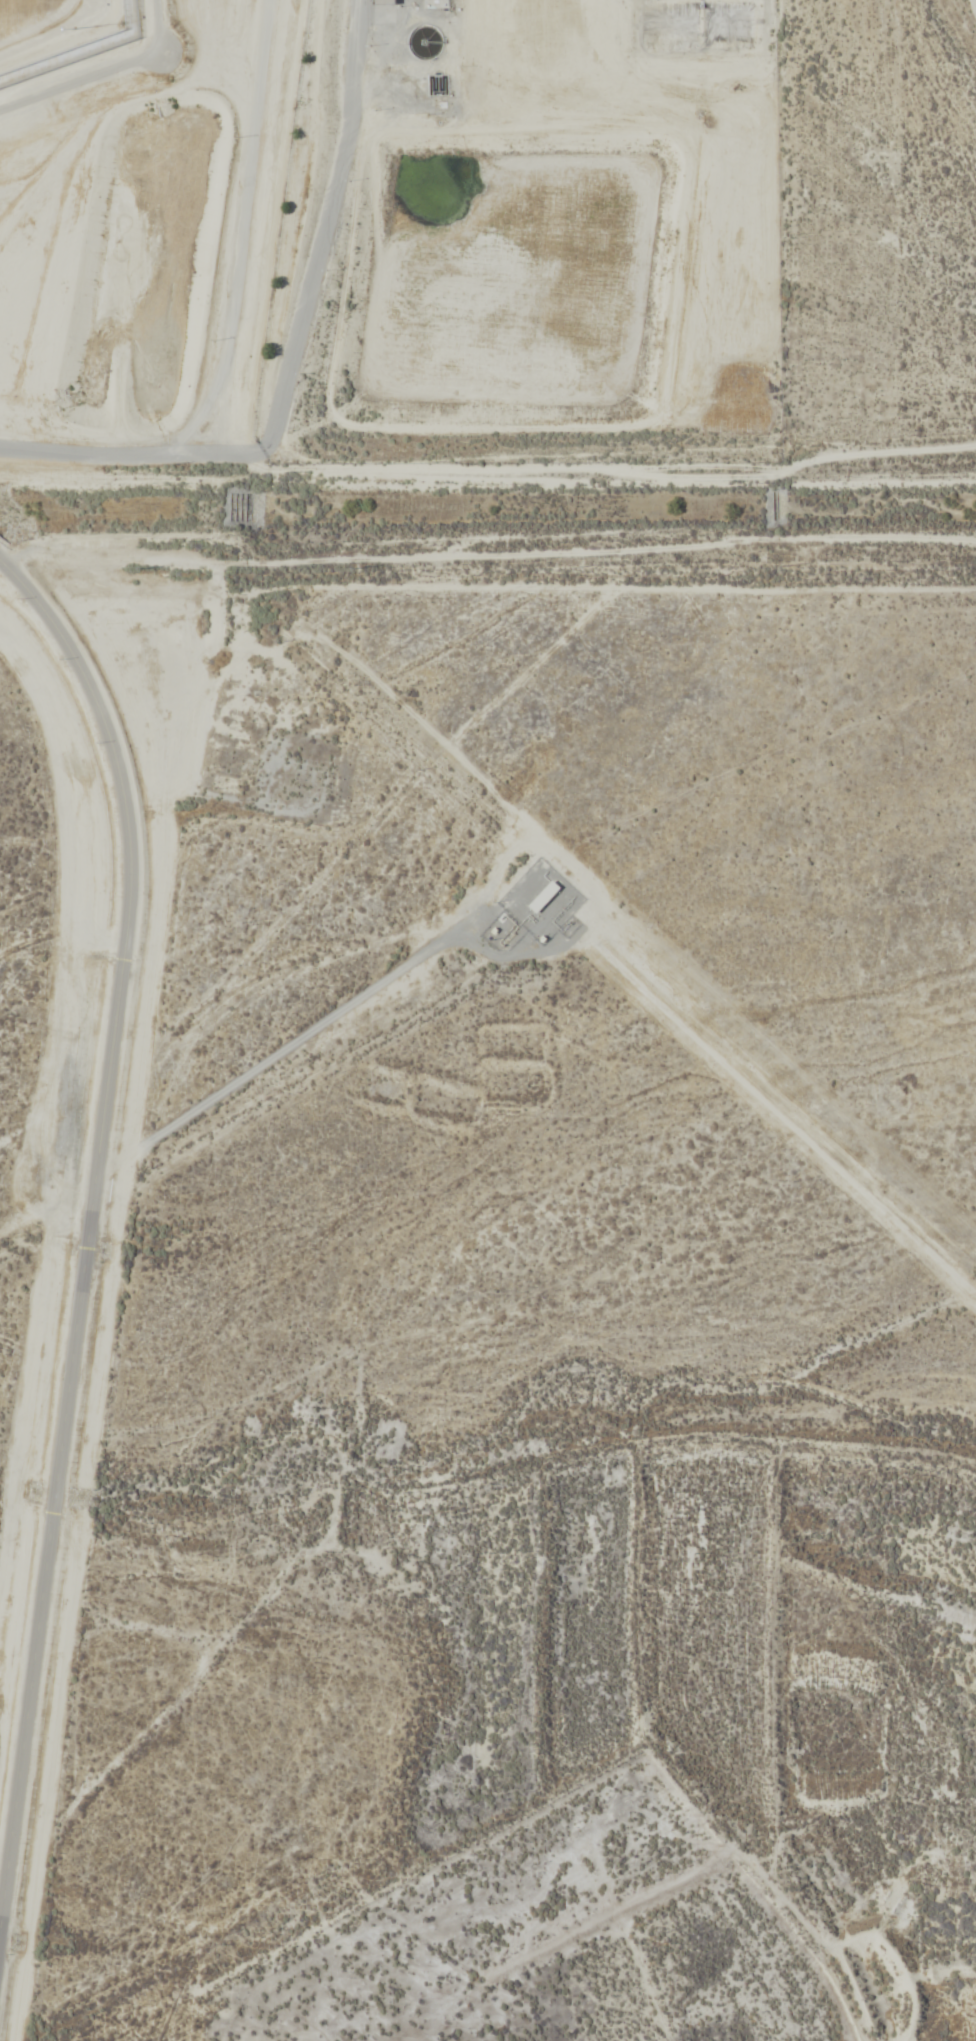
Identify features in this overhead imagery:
building: (385, 1)
park: (21, 10)
road: (100, 72)
building: (546, 897)
road: (89, 1222)

